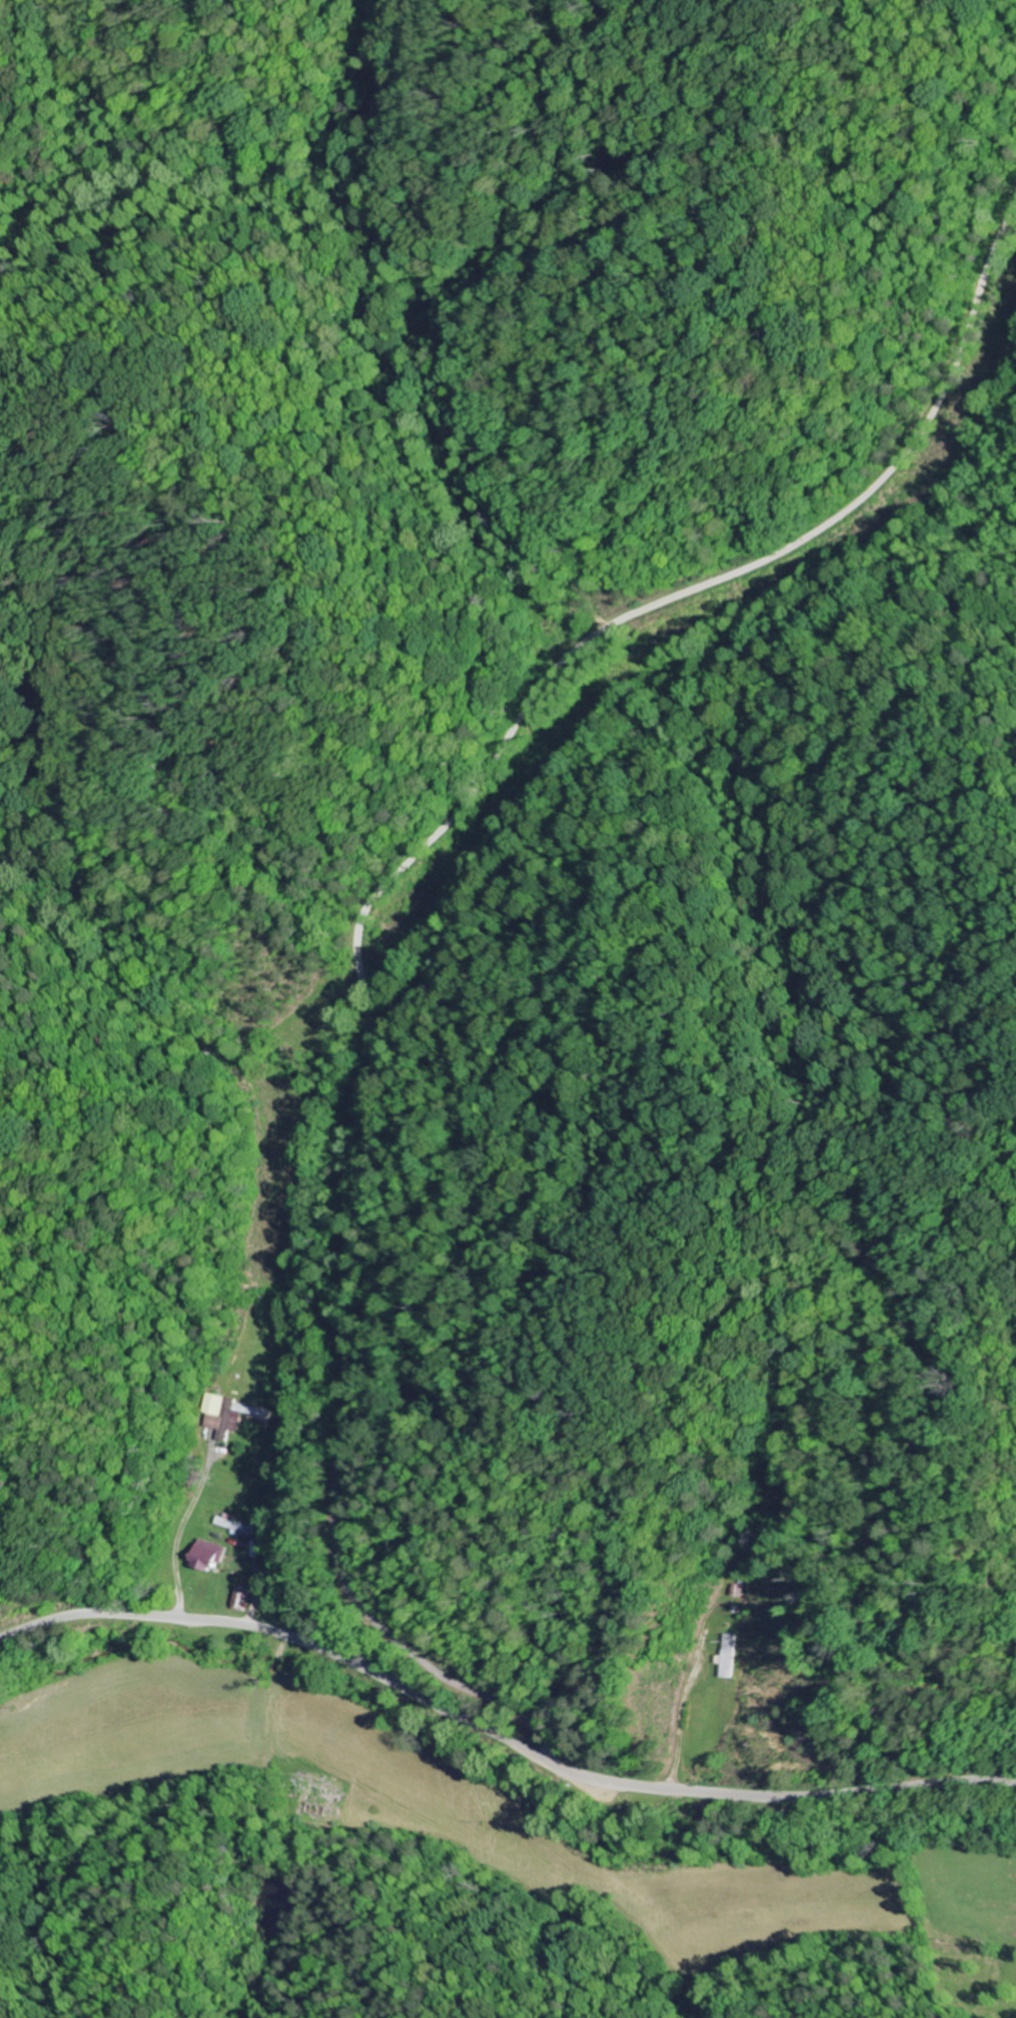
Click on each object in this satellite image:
road: (372, 897)
building: (234, 1526)
building: (207, 1556)
building: (242, 1598)
building: (729, 1656)
road: (864, 1678)
road: (499, 1732)

